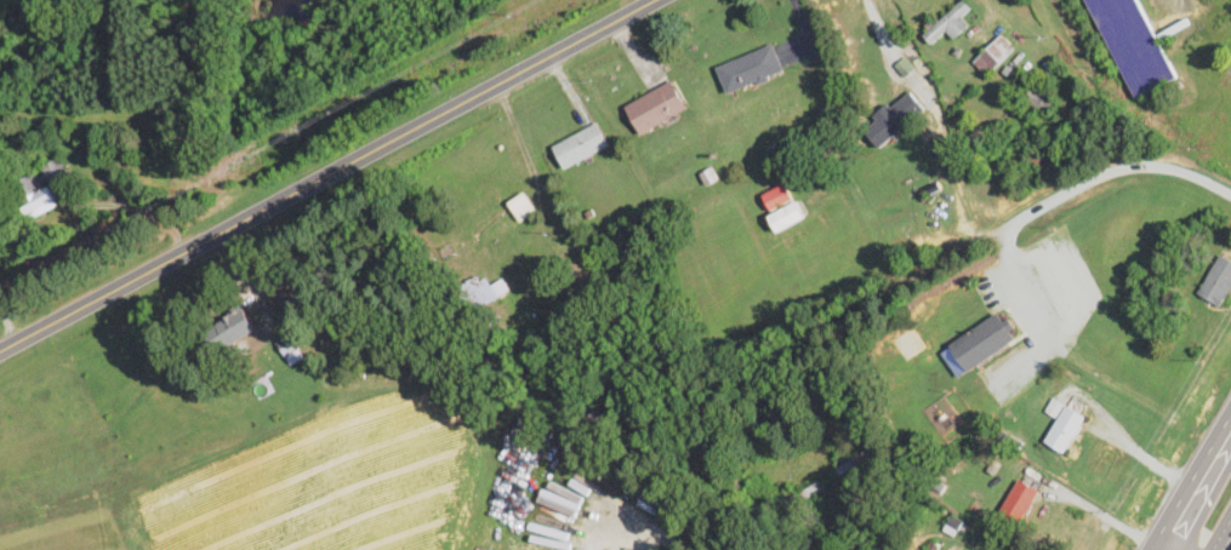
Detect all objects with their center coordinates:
building: (948, 24)
building: (1129, 46)
building: (992, 56)
building: (750, 70)
building: (312, 91)
building: (1038, 99)
building: (655, 109)
building: (893, 120)
building: (580, 147)
building: (973, 162)
building: (55, 172)
road: (327, 174)
building: (34, 196)
building: (781, 208)
building: (497, 218)
road: (1009, 237)
building: (1218, 282)
building: (479, 294)
building: (228, 332)
building: (981, 344)
building: (290, 351)
building: (826, 402)
building: (785, 425)
building: (1062, 428)
road: (58, 431)
road: (1190, 479)
building: (804, 497)
building: (1018, 504)
road: (1221, 535)
road: (1164, 544)

